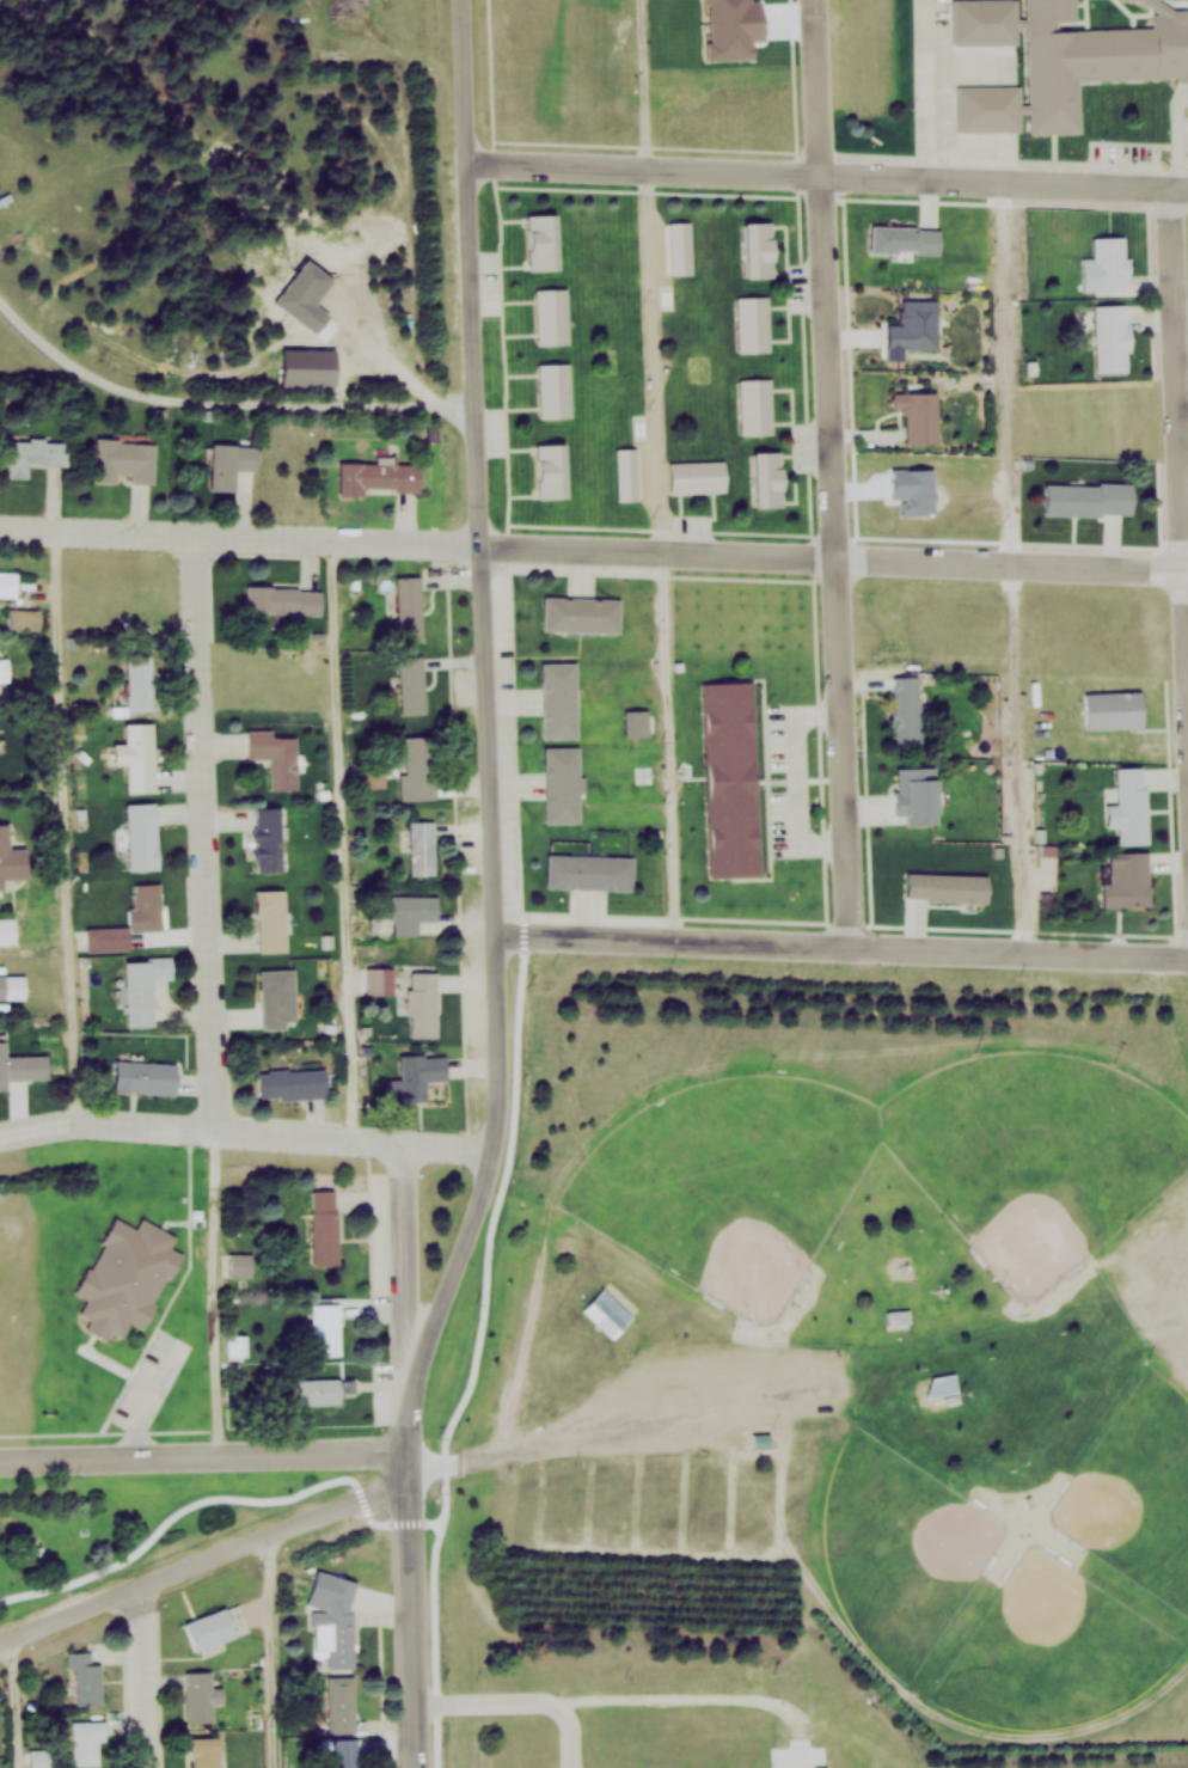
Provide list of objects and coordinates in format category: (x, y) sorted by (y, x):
building: (984, 22)
building: (1091, 59)
building: (987, 109)
road: (648, 167)
road: (1005, 182)
building: (904, 240)
building: (538, 243)
building: (680, 247)
building: (755, 250)
building: (1104, 258)
building: (551, 316)
building: (753, 324)
building: (916, 325)
building: (1112, 338)
road: (1180, 380)
building: (555, 390)
road: (221, 400)
building: (755, 406)
building: (918, 415)
building: (32, 454)
building: (123, 460)
building: (228, 464)
road: (661, 470)
building: (547, 471)
road: (837, 472)
building: (626, 473)
building: (376, 476)
building: (697, 476)
building: (765, 479)
building: (1086, 498)
road: (594, 547)
road: (1005, 565)
building: (7, 579)
building: (283, 600)
building: (410, 607)
building: (22, 613)
building: (581, 613)
building: (2, 661)
building: (137, 683)
building: (411, 696)
building: (559, 698)
building: (905, 706)
building: (1112, 708)
building: (270, 750)
building: (139, 755)
building: (417, 766)
building: (730, 778)
building: (561, 783)
building: (914, 794)
building: (1129, 803)
road: (59, 830)
road: (210, 833)
building: (141, 836)
building: (265, 838)
road: (336, 838)
building: (422, 848)
building: (10, 854)
building: (589, 871)
building: (1126, 879)
building: (945, 886)
road: (495, 891)
building: (148, 905)
building: (411, 911)
building: (269, 919)
building: (109, 937)
building: (7, 938)
road: (675, 940)
road: (1021, 950)
building: (11, 981)
building: (142, 987)
building: (276, 996)
building: (422, 1003)
building: (22, 1063)
building: (415, 1075)
building: (142, 1076)
building: (292, 1082)
road: (247, 1133)
park: (1037, 1155)
park: (731, 1182)
building: (323, 1226)
road: (409, 1256)
building: (125, 1277)
road: (219, 1292)
building: (608, 1314)
building: (899, 1319)
building: (325, 1329)
road: (1180, 1329)
building: (238, 1346)
building: (942, 1384)
building: (320, 1390)
road: (151, 1397)
road: (629, 1425)
building: (761, 1442)
road: (204, 1454)
park: (1138, 1488)
road: (177, 1518)
park: (125, 1530)
park: (902, 1547)
road: (208, 1560)
building: (331, 1619)
building: (215, 1626)
park: (1054, 1648)
road: (276, 1651)
road: (146, 1677)
building: (85, 1680)
building: (198, 1696)
road: (521, 1701)
road: (20, 1702)
building: (339, 1702)
building: (87, 1744)
building: (341, 1751)
building: (204, 1752)
parking lot: (807, 1761)
road: (807, 1766)

